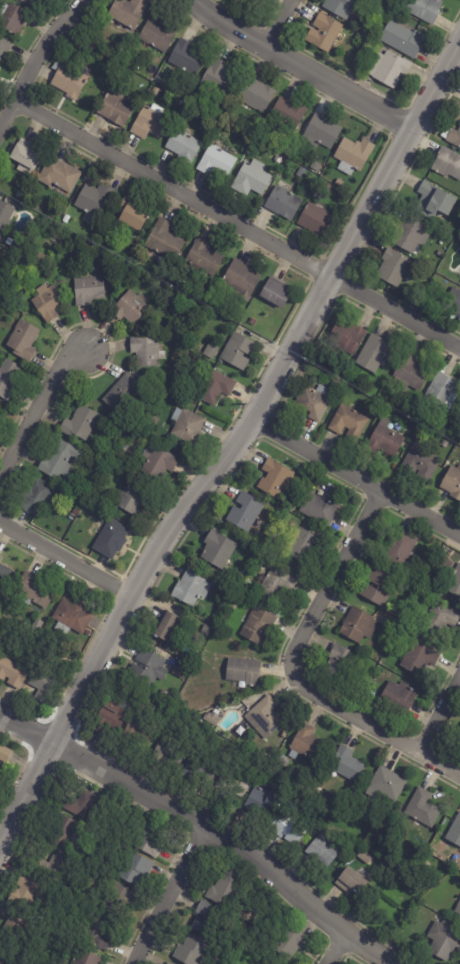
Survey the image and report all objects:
building: (33, 0)
building: (242, 2)
building: (340, 7)
building: (426, 9)
building: (128, 12)
building: (13, 18)
road: (279, 25)
building: (323, 32)
building: (157, 36)
building: (358, 36)
building: (402, 39)
building: (125, 44)
building: (4, 48)
building: (365, 51)
road: (38, 56)
building: (186, 57)
building: (347, 62)
road: (304, 68)
building: (389, 69)
building: (218, 78)
building: (69, 81)
building: (256, 94)
building: (115, 109)
building: (288, 114)
building: (150, 123)
building: (323, 133)
building: (452, 136)
building: (183, 146)
building: (353, 156)
building: (25, 157)
building: (217, 162)
building: (447, 163)
building: (316, 166)
building: (301, 172)
building: (59, 175)
building: (252, 179)
building: (19, 195)
building: (94, 200)
building: (434, 202)
building: (283, 203)
building: (131, 215)
building: (5, 216)
building: (66, 219)
building: (316, 220)
road: (232, 223)
building: (410, 237)
building: (165, 241)
building: (17, 244)
building: (440, 255)
building: (205, 257)
building: (35, 260)
building: (393, 268)
building: (241, 280)
building: (180, 285)
building: (88, 291)
building: (276, 293)
building: (214, 299)
building: (453, 302)
building: (48, 303)
building: (130, 308)
building: (459, 319)
building: (221, 321)
building: (252, 322)
building: (346, 336)
building: (23, 341)
building: (198, 343)
building: (210, 351)
building: (238, 351)
building: (146, 352)
building: (373, 352)
building: (410, 373)
building: (8, 379)
building: (336, 383)
building: (214, 388)
building: (443, 389)
building: (121, 395)
building: (313, 401)
building: (0, 405)
road: (41, 417)
building: (459, 419)
building: (459, 421)
building: (153, 422)
building: (349, 422)
building: (80, 424)
building: (186, 428)
building: (384, 439)
building: (445, 443)
road: (234, 449)
building: (59, 461)
building: (420, 461)
building: (158, 464)
building: (299, 467)
road: (356, 477)
building: (276, 479)
building: (452, 482)
building: (81, 493)
building: (38, 499)
building: (132, 499)
building: (287, 504)
building: (87, 509)
building: (319, 509)
building: (76, 512)
building: (246, 512)
building: (74, 530)
building: (110, 540)
building: (67, 541)
building: (302, 544)
building: (399, 547)
building: (217, 548)
building: (445, 552)
building: (0, 558)
road: (65, 569)
building: (239, 575)
building: (5, 577)
building: (454, 580)
building: (277, 583)
building: (378, 586)
building: (191, 588)
building: (32, 592)
building: (429, 594)
building: (233, 605)
building: (72, 616)
building: (439, 618)
building: (258, 625)
building: (358, 625)
building: (167, 626)
building: (37, 627)
building: (206, 629)
building: (87, 633)
building: (419, 658)
building: (339, 660)
building: (147, 668)
building: (180, 669)
road: (291, 669)
building: (243, 671)
building: (12, 674)
building: (364, 680)
building: (41, 688)
building: (149, 692)
building: (367, 692)
building: (163, 695)
building: (398, 696)
building: (111, 714)
road: (439, 714)
building: (266, 717)
building: (212, 718)
building: (241, 729)
building: (138, 730)
building: (284, 734)
building: (307, 745)
building: (283, 750)
building: (167, 753)
building: (5, 754)
building: (346, 764)
building: (198, 770)
building: (231, 784)
building: (386, 784)
building: (363, 785)
building: (264, 800)
building: (83, 805)
building: (423, 808)
building: (379, 818)
road: (206, 826)
building: (287, 830)
building: (62, 832)
building: (455, 833)
building: (149, 840)
building: (323, 850)
building: (367, 858)
building: (52, 868)
building: (136, 869)
building: (351, 882)
building: (27, 887)
building: (224, 891)
road: (170, 895)
building: (118, 899)
building: (458, 909)
building: (445, 913)
building: (207, 920)
building: (14, 921)
building: (447, 922)
building: (96, 933)
building: (288, 941)
building: (443, 941)
road: (336, 948)
building: (190, 950)
building: (5, 956)
building: (87, 958)
building: (166, 963)

